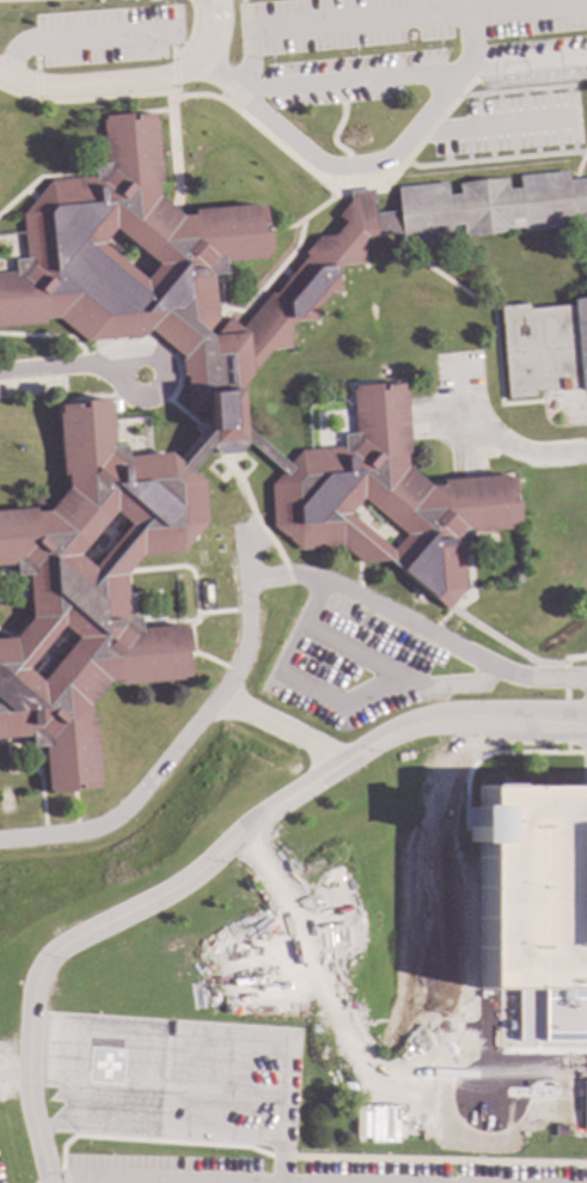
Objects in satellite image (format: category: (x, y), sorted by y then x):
road: (526, 12)
road: (332, 26)
parking lot: (109, 36)
road: (71, 38)
parking lot: (532, 43)
road: (411, 72)
parking lot: (350, 79)
road: (134, 81)
parking lot: (509, 126)
road: (497, 127)
road: (372, 164)
road: (159, 360)
road: (60, 370)
parking lot: (565, 408)
building: (228, 415)
parking lot: (476, 420)
road: (499, 437)
road: (418, 626)
road: (351, 652)
parking lot: (371, 658)
parking lot: (586, 664)
road: (341, 700)
road: (291, 725)
road: (189, 738)
road: (503, 754)
road: (583, 754)
road: (586, 756)
road: (305, 789)
building: (532, 904)
parking lot: (532, 904)
road: (519, 1045)
road: (167, 1063)
road: (24, 1065)
building: (104, 1068)
helipad: (105, 1068)
parking lot: (226, 1085)
building: (585, 1105)
road: (98, 1127)
road: (201, 1133)
road: (308, 1158)
road: (281, 1160)
parking lot: (299, 1171)
road: (62, 1176)
road: (98, 1181)

